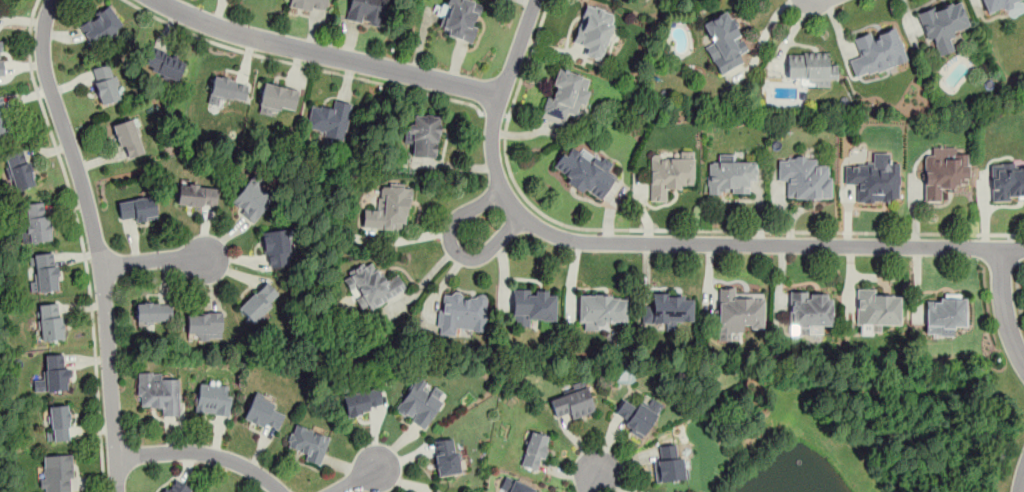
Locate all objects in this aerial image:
building: (309, 4)
building: (998, 5)
building: (366, 11)
building: (459, 18)
building: (100, 25)
building: (943, 25)
building: (594, 32)
building: (724, 41)
building: (877, 52)
road: (326, 55)
building: (0, 59)
road: (301, 63)
building: (164, 64)
building: (809, 66)
building: (105, 83)
building: (228, 89)
building: (565, 95)
building: (276, 97)
road: (494, 113)
building: (329, 119)
building: (3, 121)
building: (423, 134)
building: (128, 138)
building: (19, 169)
building: (585, 172)
building: (944, 172)
building: (668, 173)
building: (729, 175)
building: (804, 176)
building: (874, 179)
building: (1007, 180)
building: (196, 194)
building: (251, 198)
building: (388, 207)
road: (513, 208)
building: (137, 209)
building: (37, 221)
road: (664, 229)
road: (580, 240)
road: (82, 241)
road: (96, 242)
building: (277, 247)
road: (1016, 248)
road: (158, 260)
building: (43, 271)
building: (371, 285)
road: (1017, 291)
building: (258, 301)
building: (533, 305)
building: (876, 308)
road: (1003, 308)
building: (668, 309)
building: (600, 310)
building: (809, 310)
building: (153, 311)
building: (461, 312)
building: (737, 313)
building: (943, 316)
building: (50, 321)
building: (204, 325)
building: (53, 373)
building: (158, 392)
building: (213, 399)
building: (362, 401)
building: (572, 401)
building: (420, 402)
building: (263, 412)
building: (636, 415)
building: (58, 423)
building: (308, 442)
building: (534, 450)
road: (202, 453)
building: (446, 457)
building: (669, 465)
building: (56, 473)
road: (357, 479)
road: (594, 479)
road: (1021, 479)
building: (515, 485)
building: (175, 486)
building: (434, 490)
building: (646, 491)

